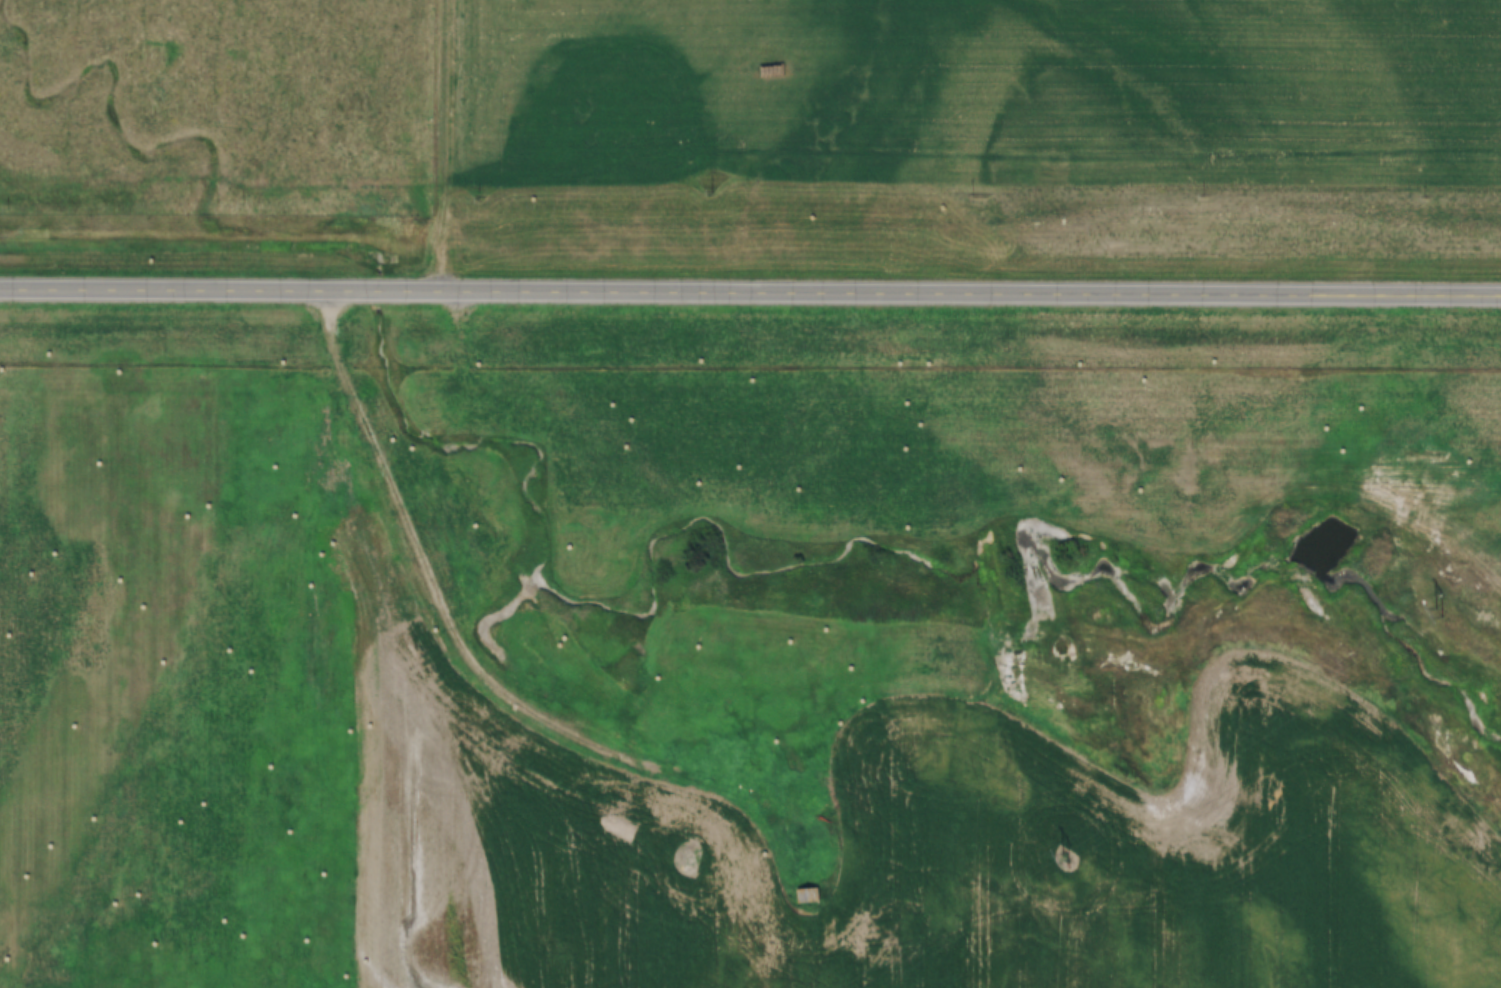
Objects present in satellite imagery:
road: (445, 145)
road: (750, 291)
road: (438, 589)
building: (280, 620)
building: (708, 683)
building: (806, 895)

